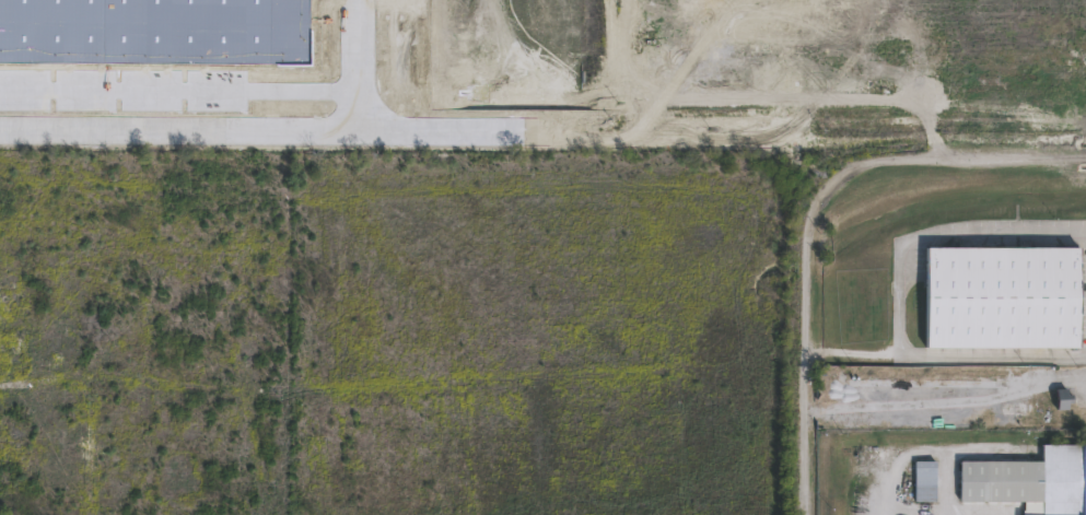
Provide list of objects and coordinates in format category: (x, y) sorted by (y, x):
road: (819, 222)
road: (899, 296)
building: (1004, 297)
building: (931, 384)
building: (988, 384)
road: (1007, 397)
building: (1065, 399)
building: (1019, 413)
building: (980, 418)
building: (926, 482)
building: (1031, 482)

